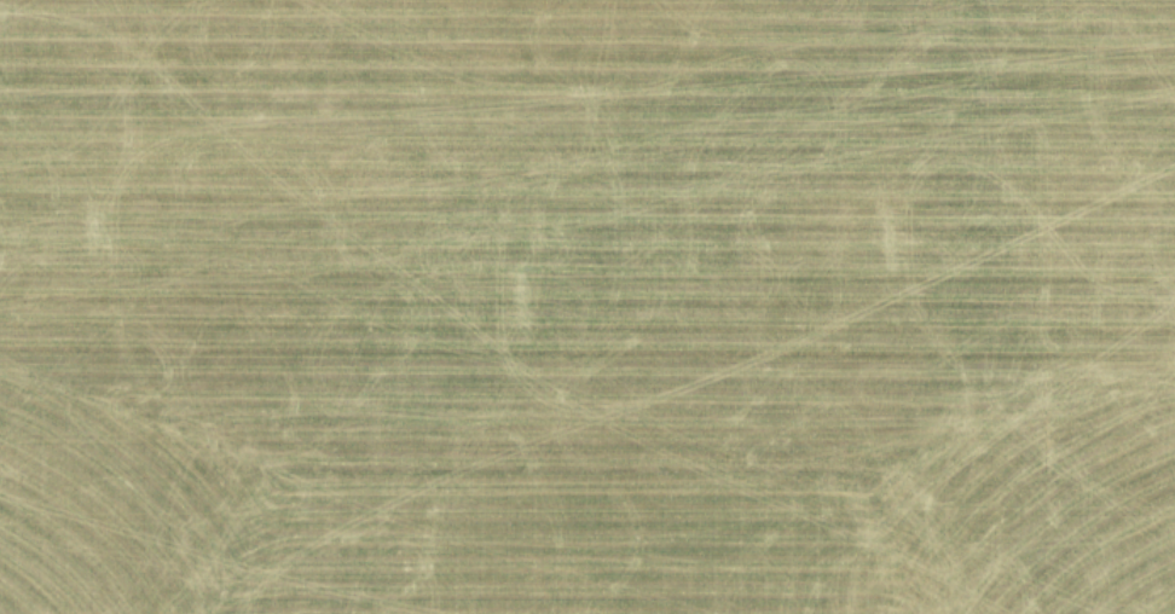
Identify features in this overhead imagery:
crop: (587, 307)

